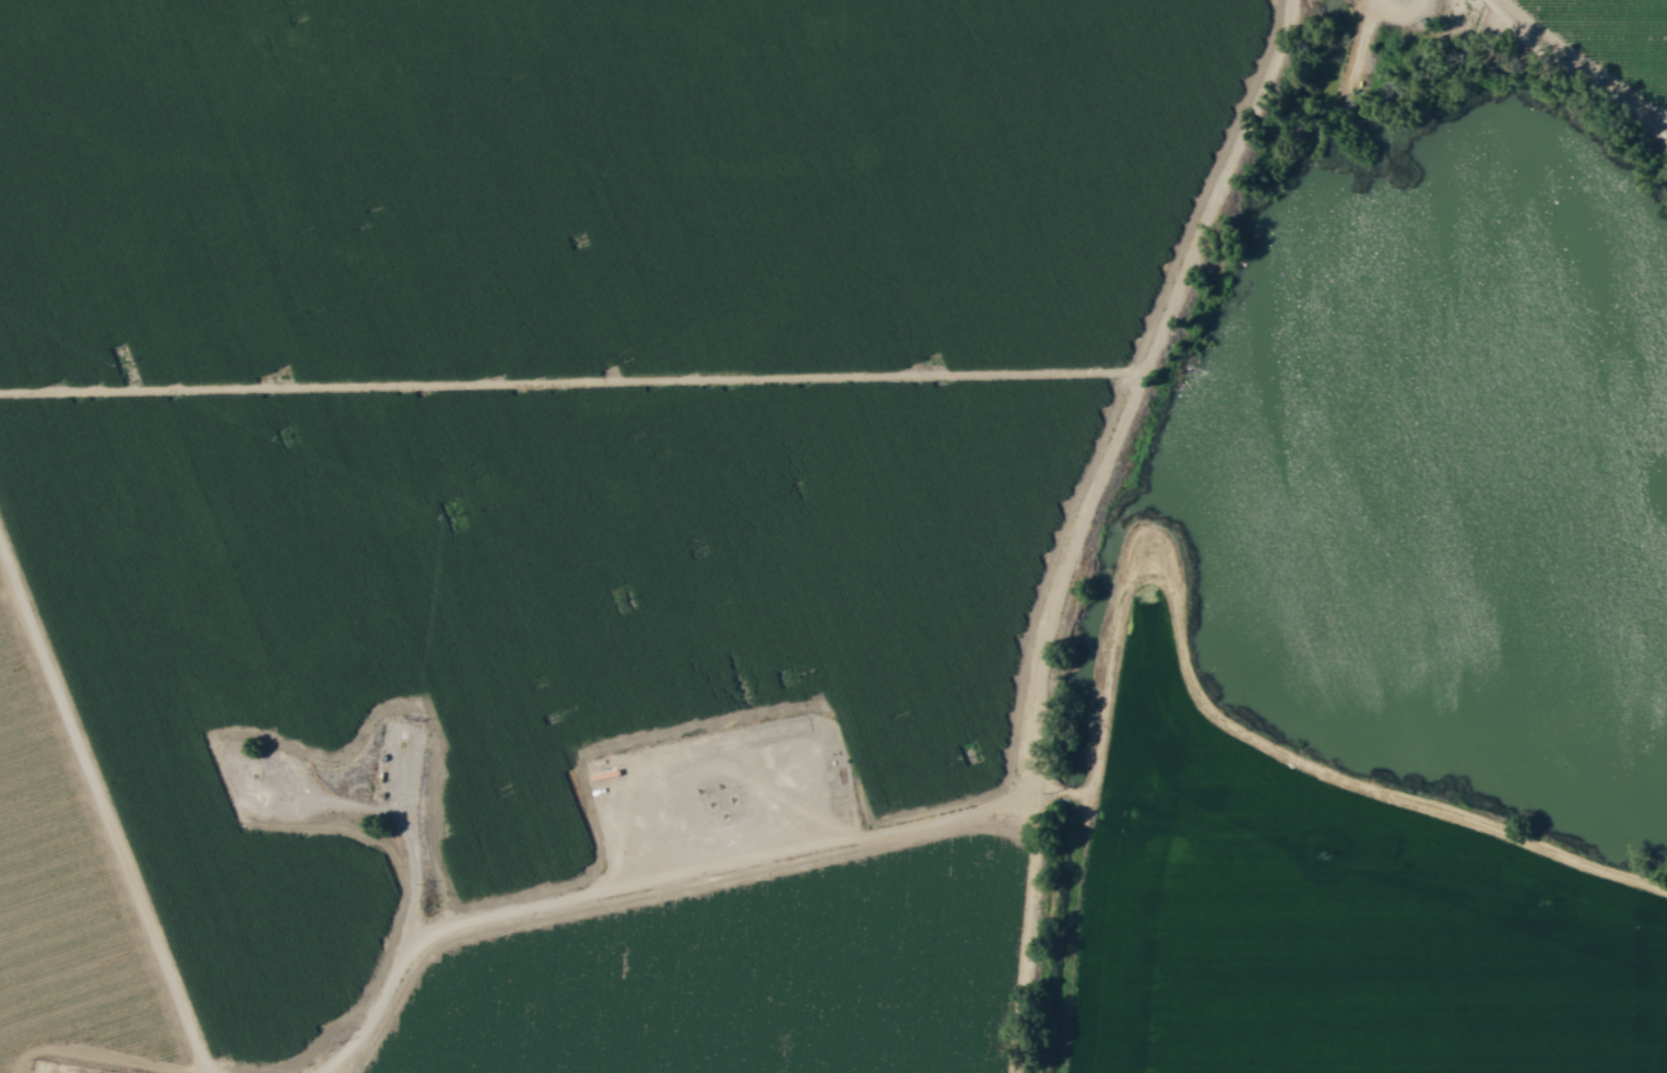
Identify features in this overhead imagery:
road: (110, 817)

